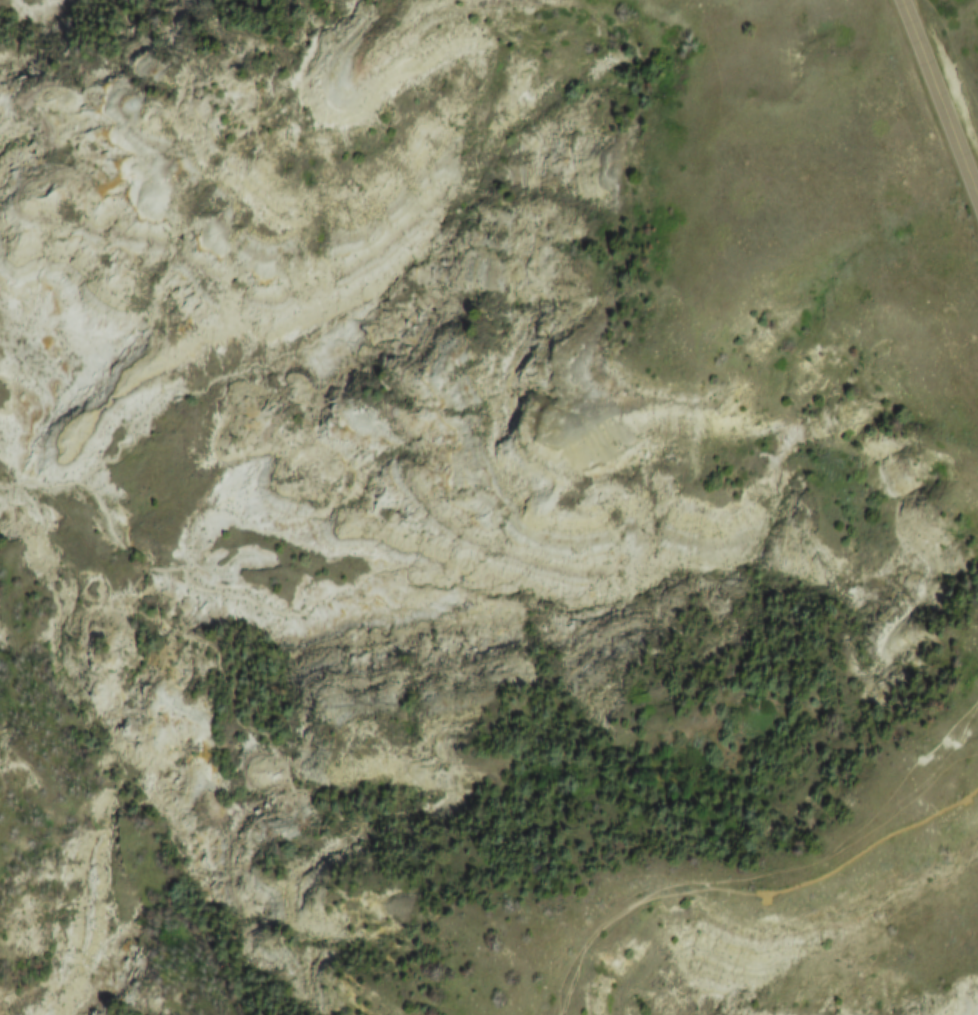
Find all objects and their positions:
road: (939, 98)
road: (875, 846)

